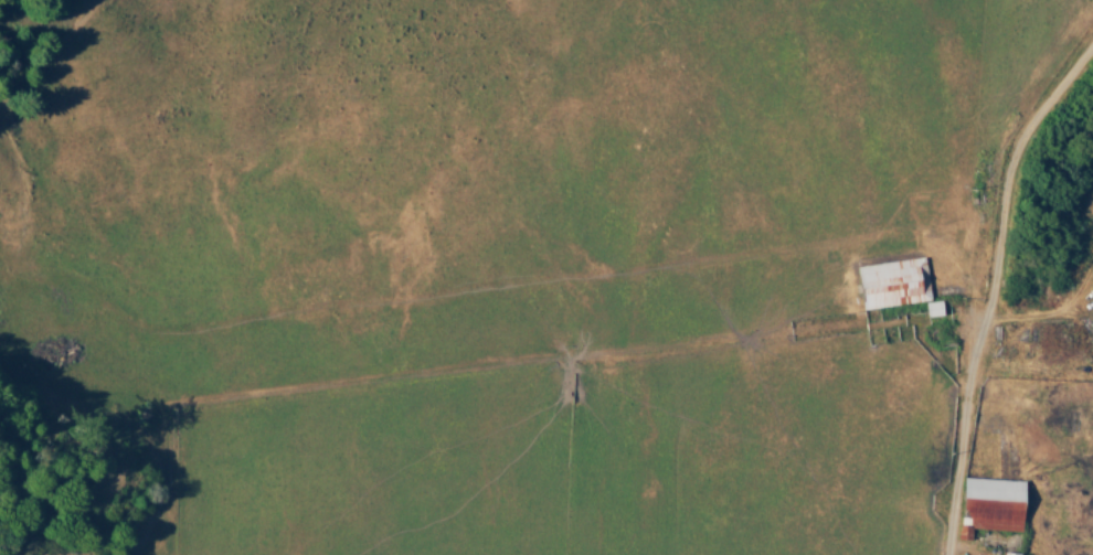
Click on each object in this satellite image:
building: (892, 282)
building: (932, 308)
building: (989, 504)
road: (946, 543)
building: (1010, 553)

